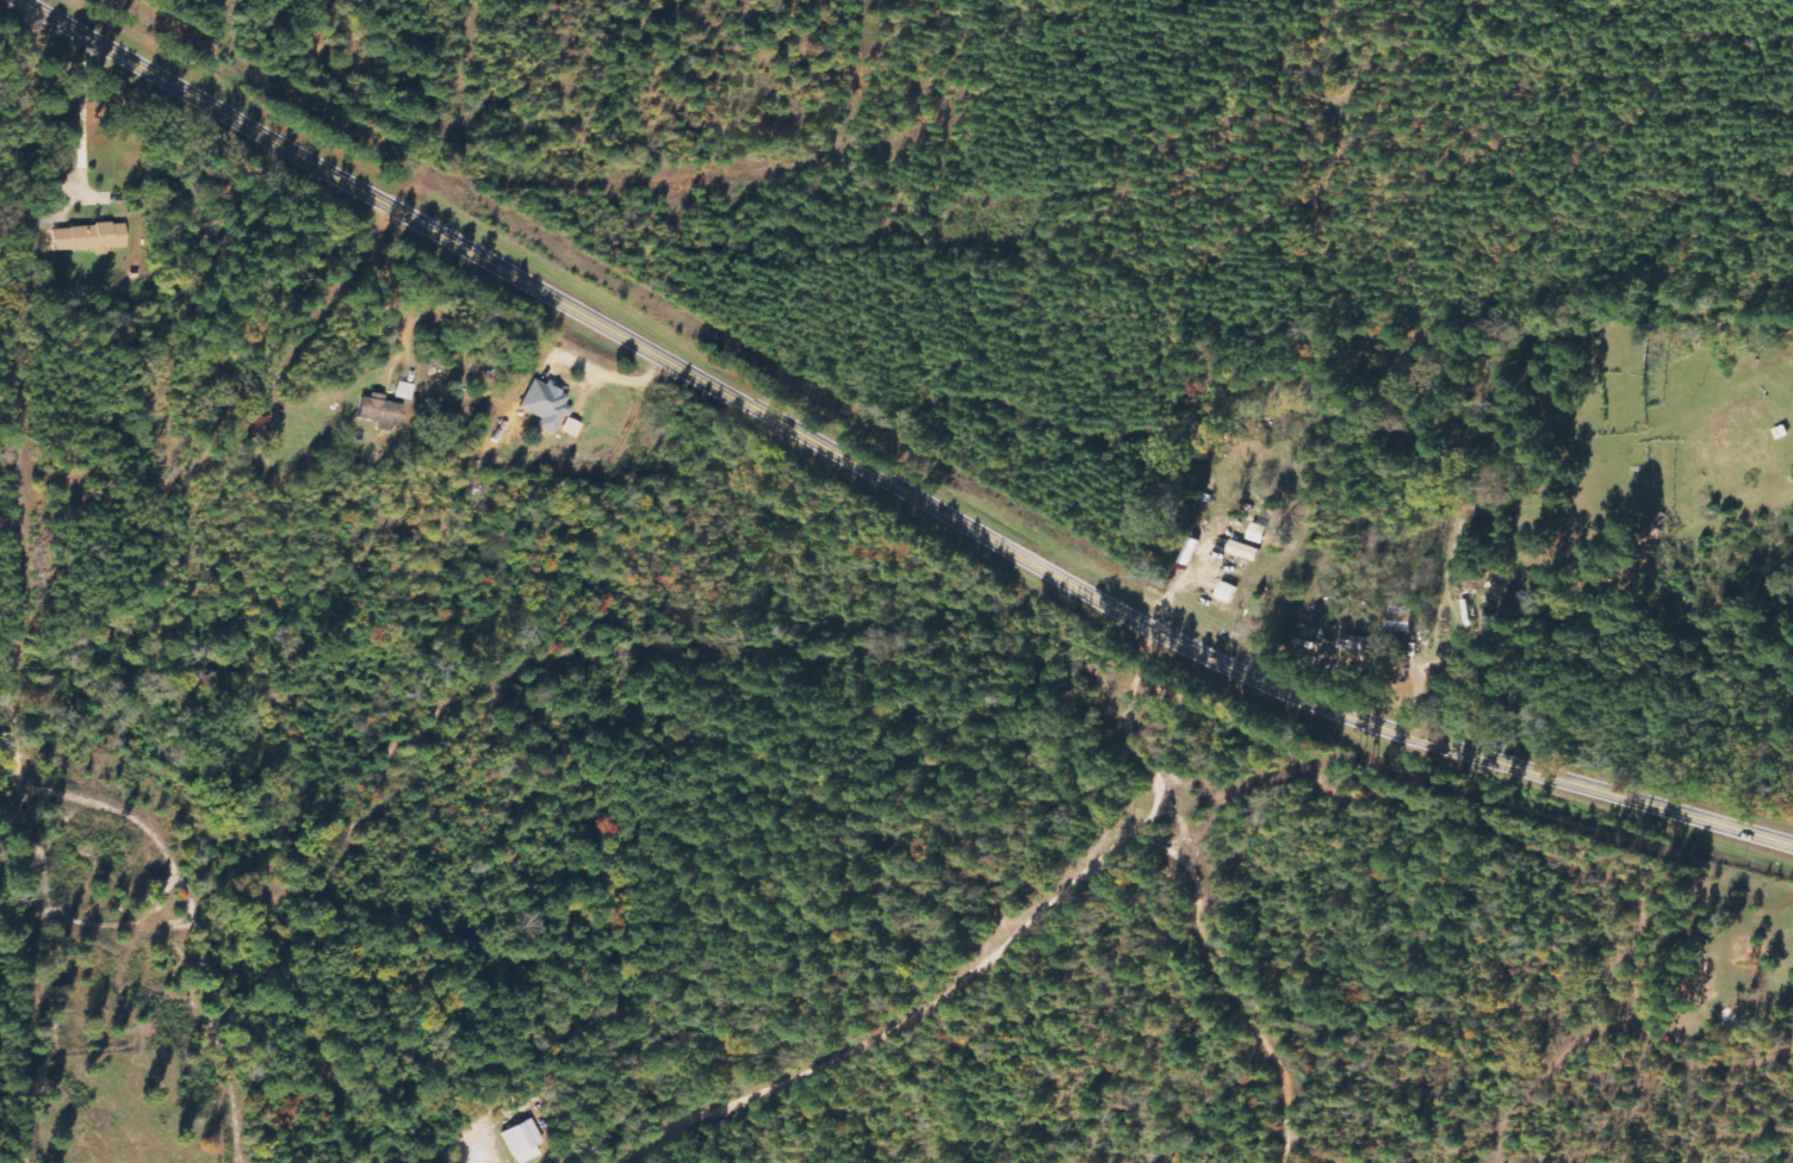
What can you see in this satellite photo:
building: (88, 238)
building: (403, 391)
building: (544, 405)
building: (377, 410)
road: (888, 480)
road: (30, 585)
building: (522, 1142)

